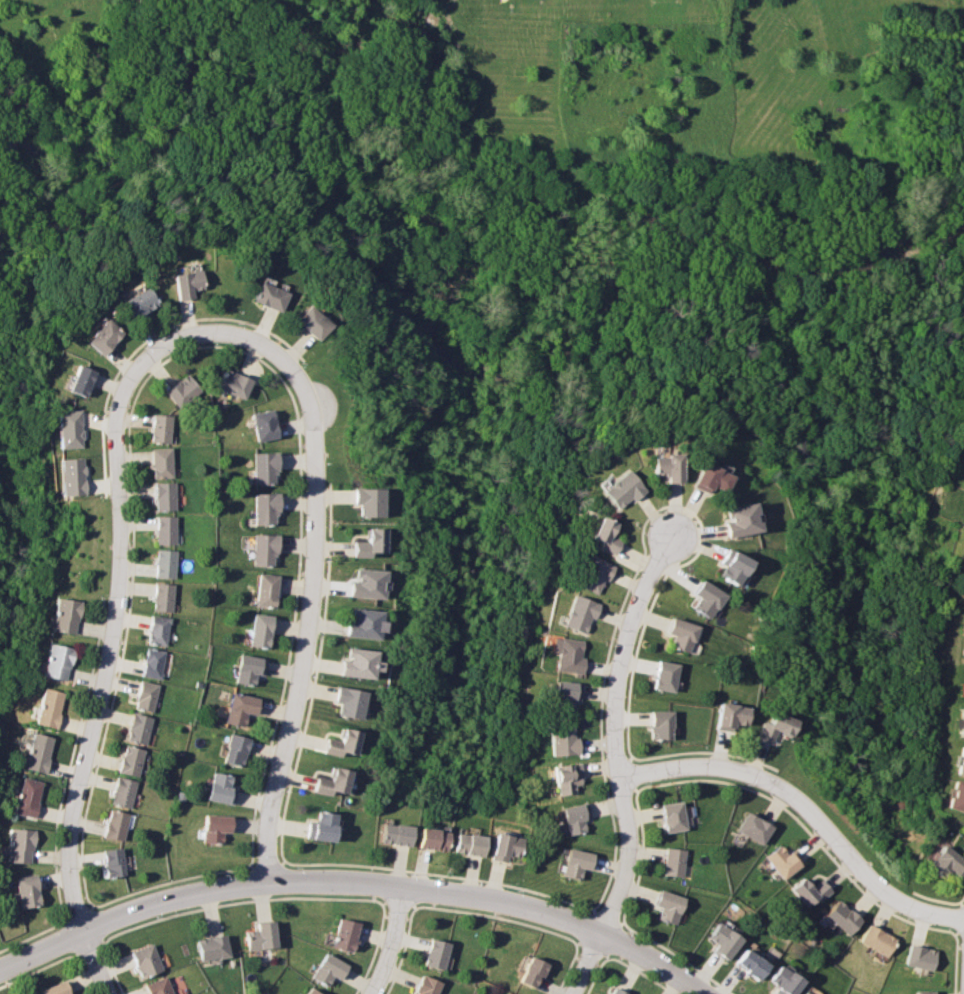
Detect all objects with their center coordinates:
river: (384, 141)
building: (188, 284)
park: (551, 293)
building: (271, 297)
building: (141, 303)
building: (315, 323)
building: (105, 338)
building: (81, 381)
building: (235, 384)
building: (183, 391)
building: (266, 425)
building: (67, 428)
building: (162, 429)
building: (163, 462)
building: (666, 467)
building: (267, 468)
building: (70, 476)
building: (709, 479)
building: (620, 489)
building: (166, 494)
building: (370, 499)
building: (268, 506)
building: (739, 521)
building: (167, 528)
building: (603, 536)
building: (372, 540)
building: (266, 547)
road: (641, 556)
building: (166, 561)
building: (731, 567)
building: (591, 574)
building: (369, 581)
building: (268, 589)
building: (164, 595)
road: (118, 599)
building: (704, 599)
building: (66, 613)
building: (577, 614)
building: (366, 621)
road: (306, 624)
building: (159, 628)
building: (262, 629)
building: (679, 635)
building: (565, 655)
building: (58, 659)
building: (360, 660)
building: (154, 662)
building: (251, 669)
building: (664, 677)
building: (963, 682)
building: (133, 687)
building: (147, 695)
building: (562, 696)
building: (351, 701)
building: (49, 705)
building: (242, 707)
building: (728, 716)
building: (960, 721)
building: (658, 726)
building: (140, 727)
building: (771, 727)
building: (559, 739)
building: (345, 741)
building: (237, 748)
building: (38, 751)
road: (702, 752)
building: (132, 760)
building: (960, 761)
road: (623, 764)
road: (628, 774)
building: (564, 779)
building: (334, 782)
building: (223, 787)
building: (123, 791)
building: (27, 796)
building: (956, 796)
road: (808, 808)
building: (571, 818)
building: (671, 818)
building: (116, 823)
building: (322, 825)
building: (217, 826)
building: (751, 829)
road: (804, 830)
road: (840, 830)
building: (389, 834)
building: (427, 840)
building: (19, 845)
building: (464, 845)
building: (501, 848)
road: (640, 857)
building: (115, 861)
building: (779, 861)
building: (942, 862)
building: (671, 863)
building: (573, 864)
road: (265, 865)
road: (437, 874)
road: (168, 881)
road: (358, 882)
building: (27, 890)
building: (805, 892)
road: (961, 894)
road: (931, 898)
road: (394, 901)
road: (237, 902)
building: (666, 907)
road: (81, 914)
road: (495, 916)
road: (602, 917)
road: (958, 917)
building: (837, 918)
road: (95, 927)
road: (585, 930)
road: (69, 932)
building: (340, 932)
building: (257, 934)
road: (611, 935)
building: (720, 937)
road: (392, 941)
building: (873, 941)
building: (210, 944)
road: (84, 945)
road: (596, 947)
road: (371, 950)
road: (400, 951)
building: (433, 951)
road: (676, 956)
building: (144, 958)
building: (917, 958)
building: (745, 961)
road: (953, 963)
building: (325, 967)
road: (112, 968)
building: (534, 971)
road: (84, 974)
building: (778, 979)
building: (424, 984)
building: (157, 985)
building: (53, 987)
building: (308, 991)
building: (620, 991)
building: (799, 991)
building: (921, 991)
building: (808, 992)
building: (503, 993)
building: (508, 993)

